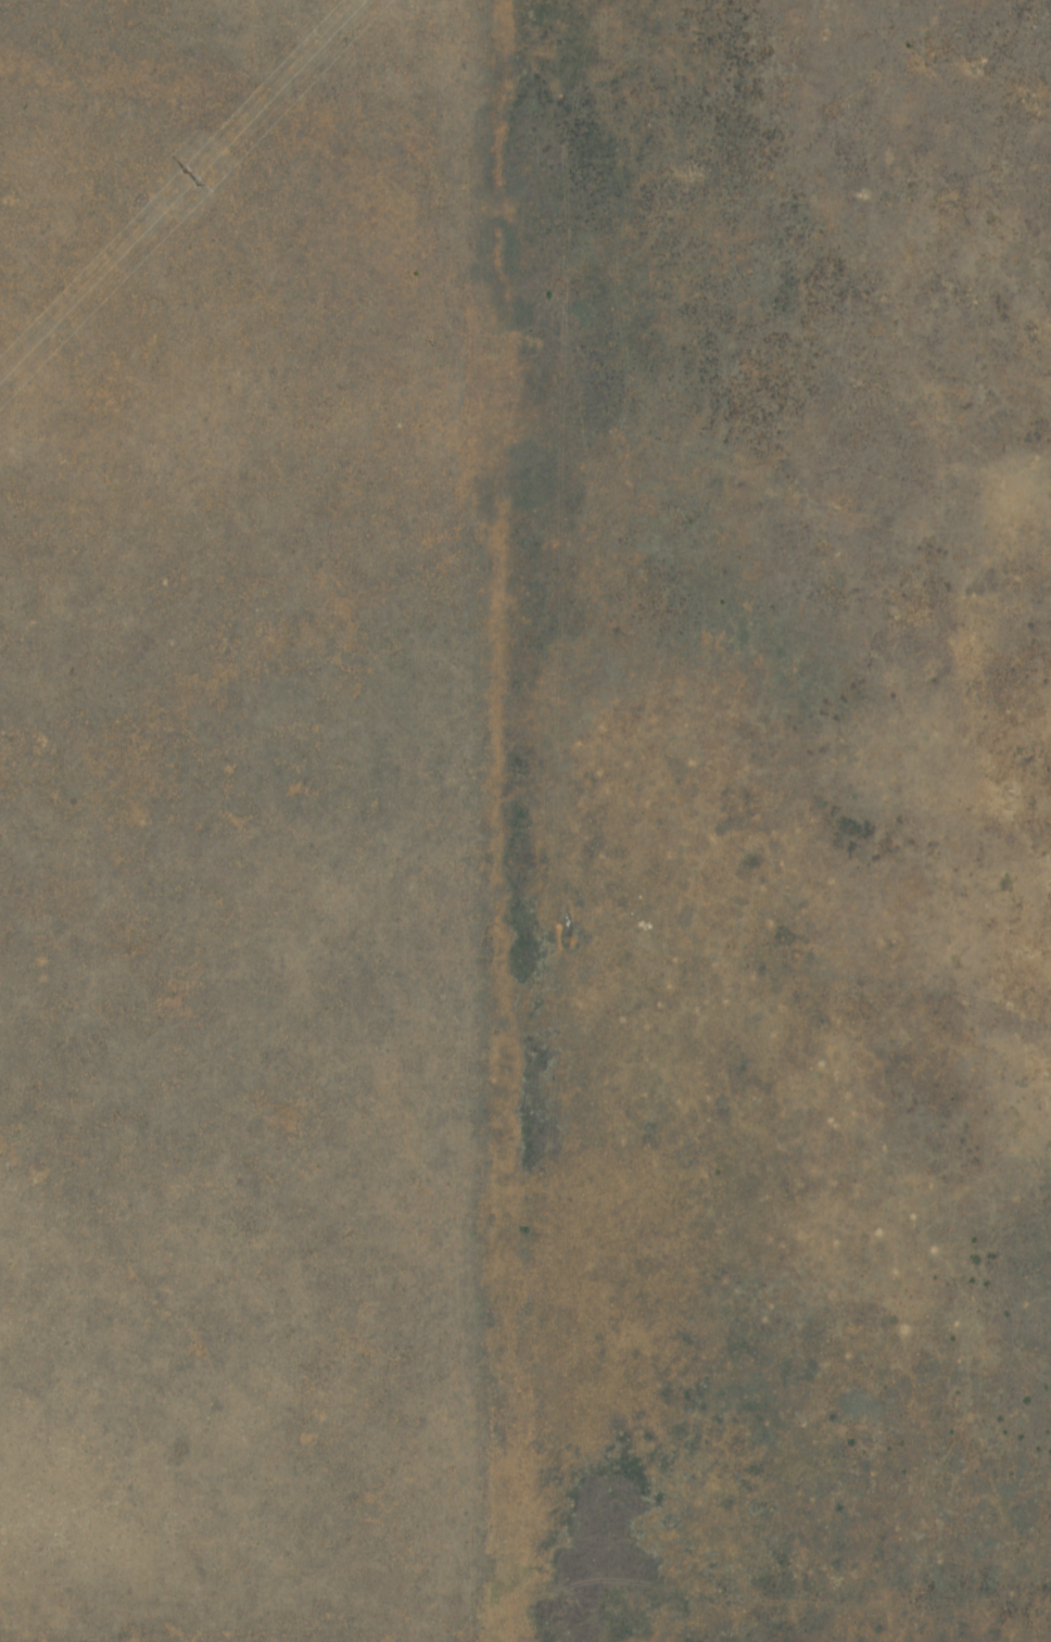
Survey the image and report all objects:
power tower: (191, 175)

